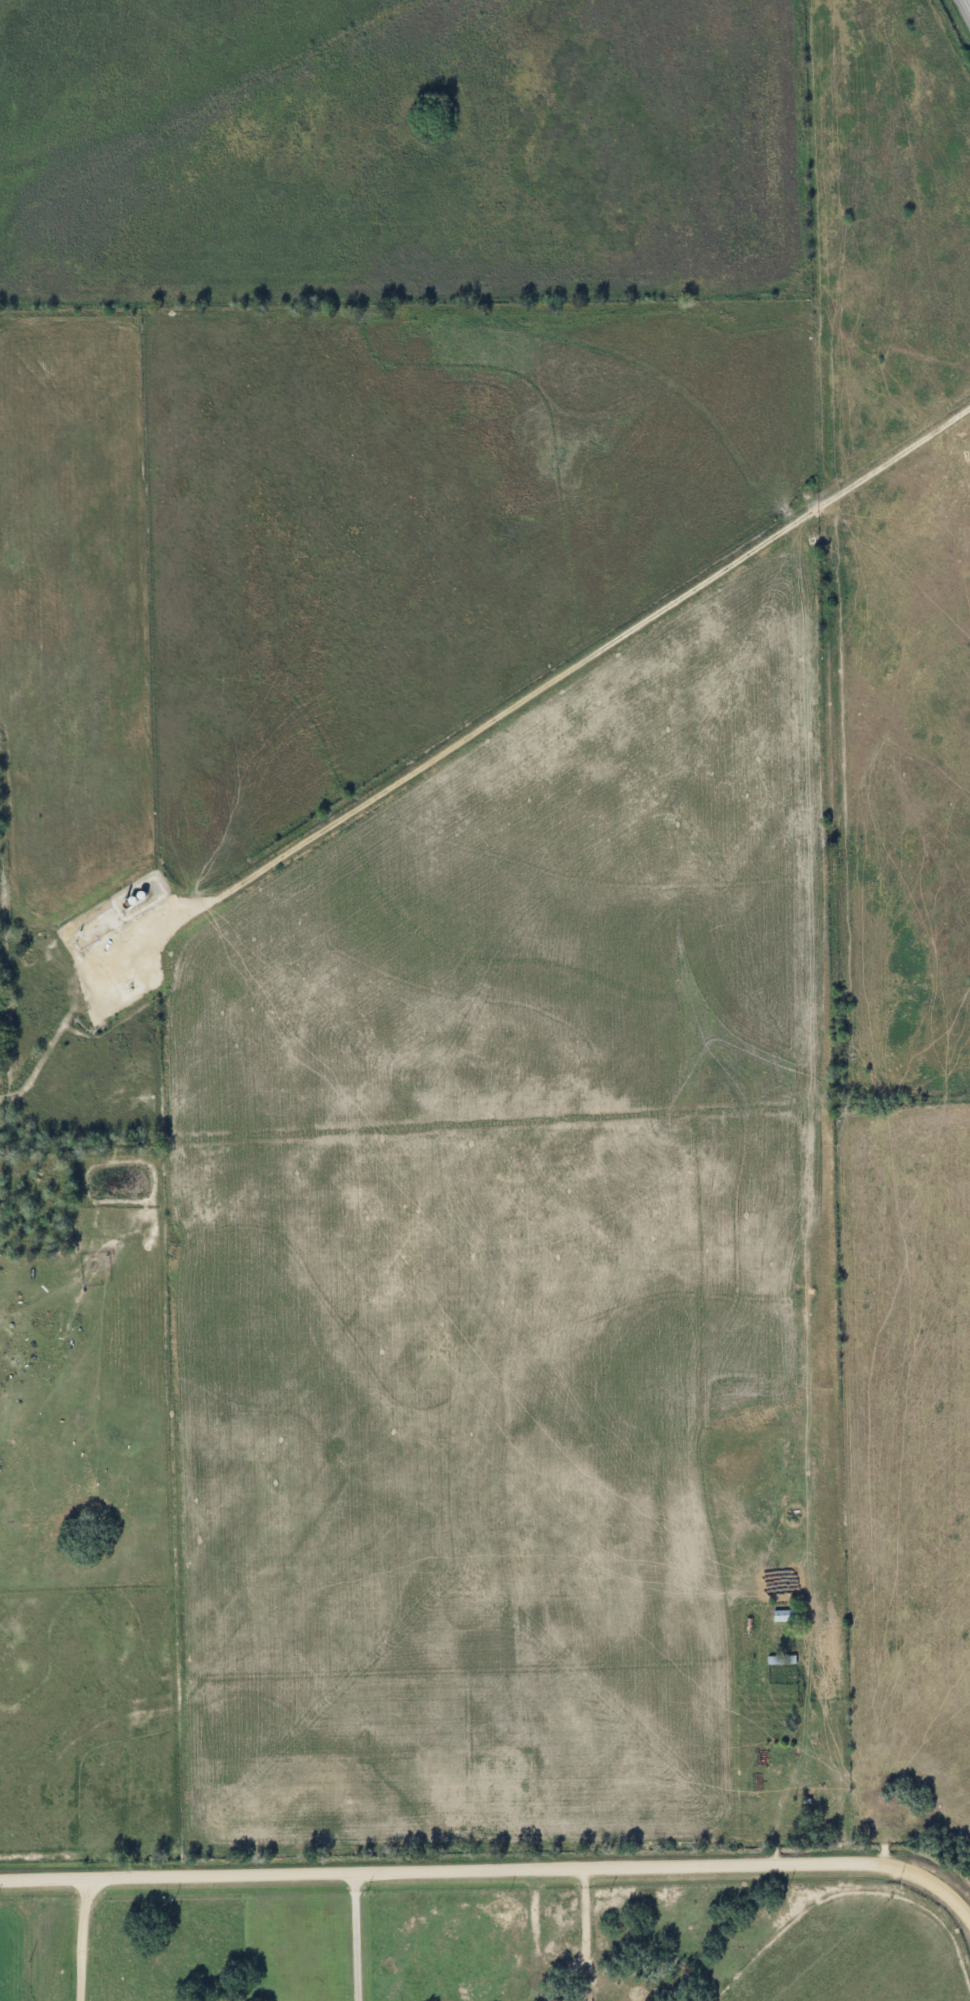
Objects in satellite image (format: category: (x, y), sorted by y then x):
building: (778, 1615)
building: (777, 1659)
road: (494, 1872)
road: (353, 1938)
road: (78, 1941)

